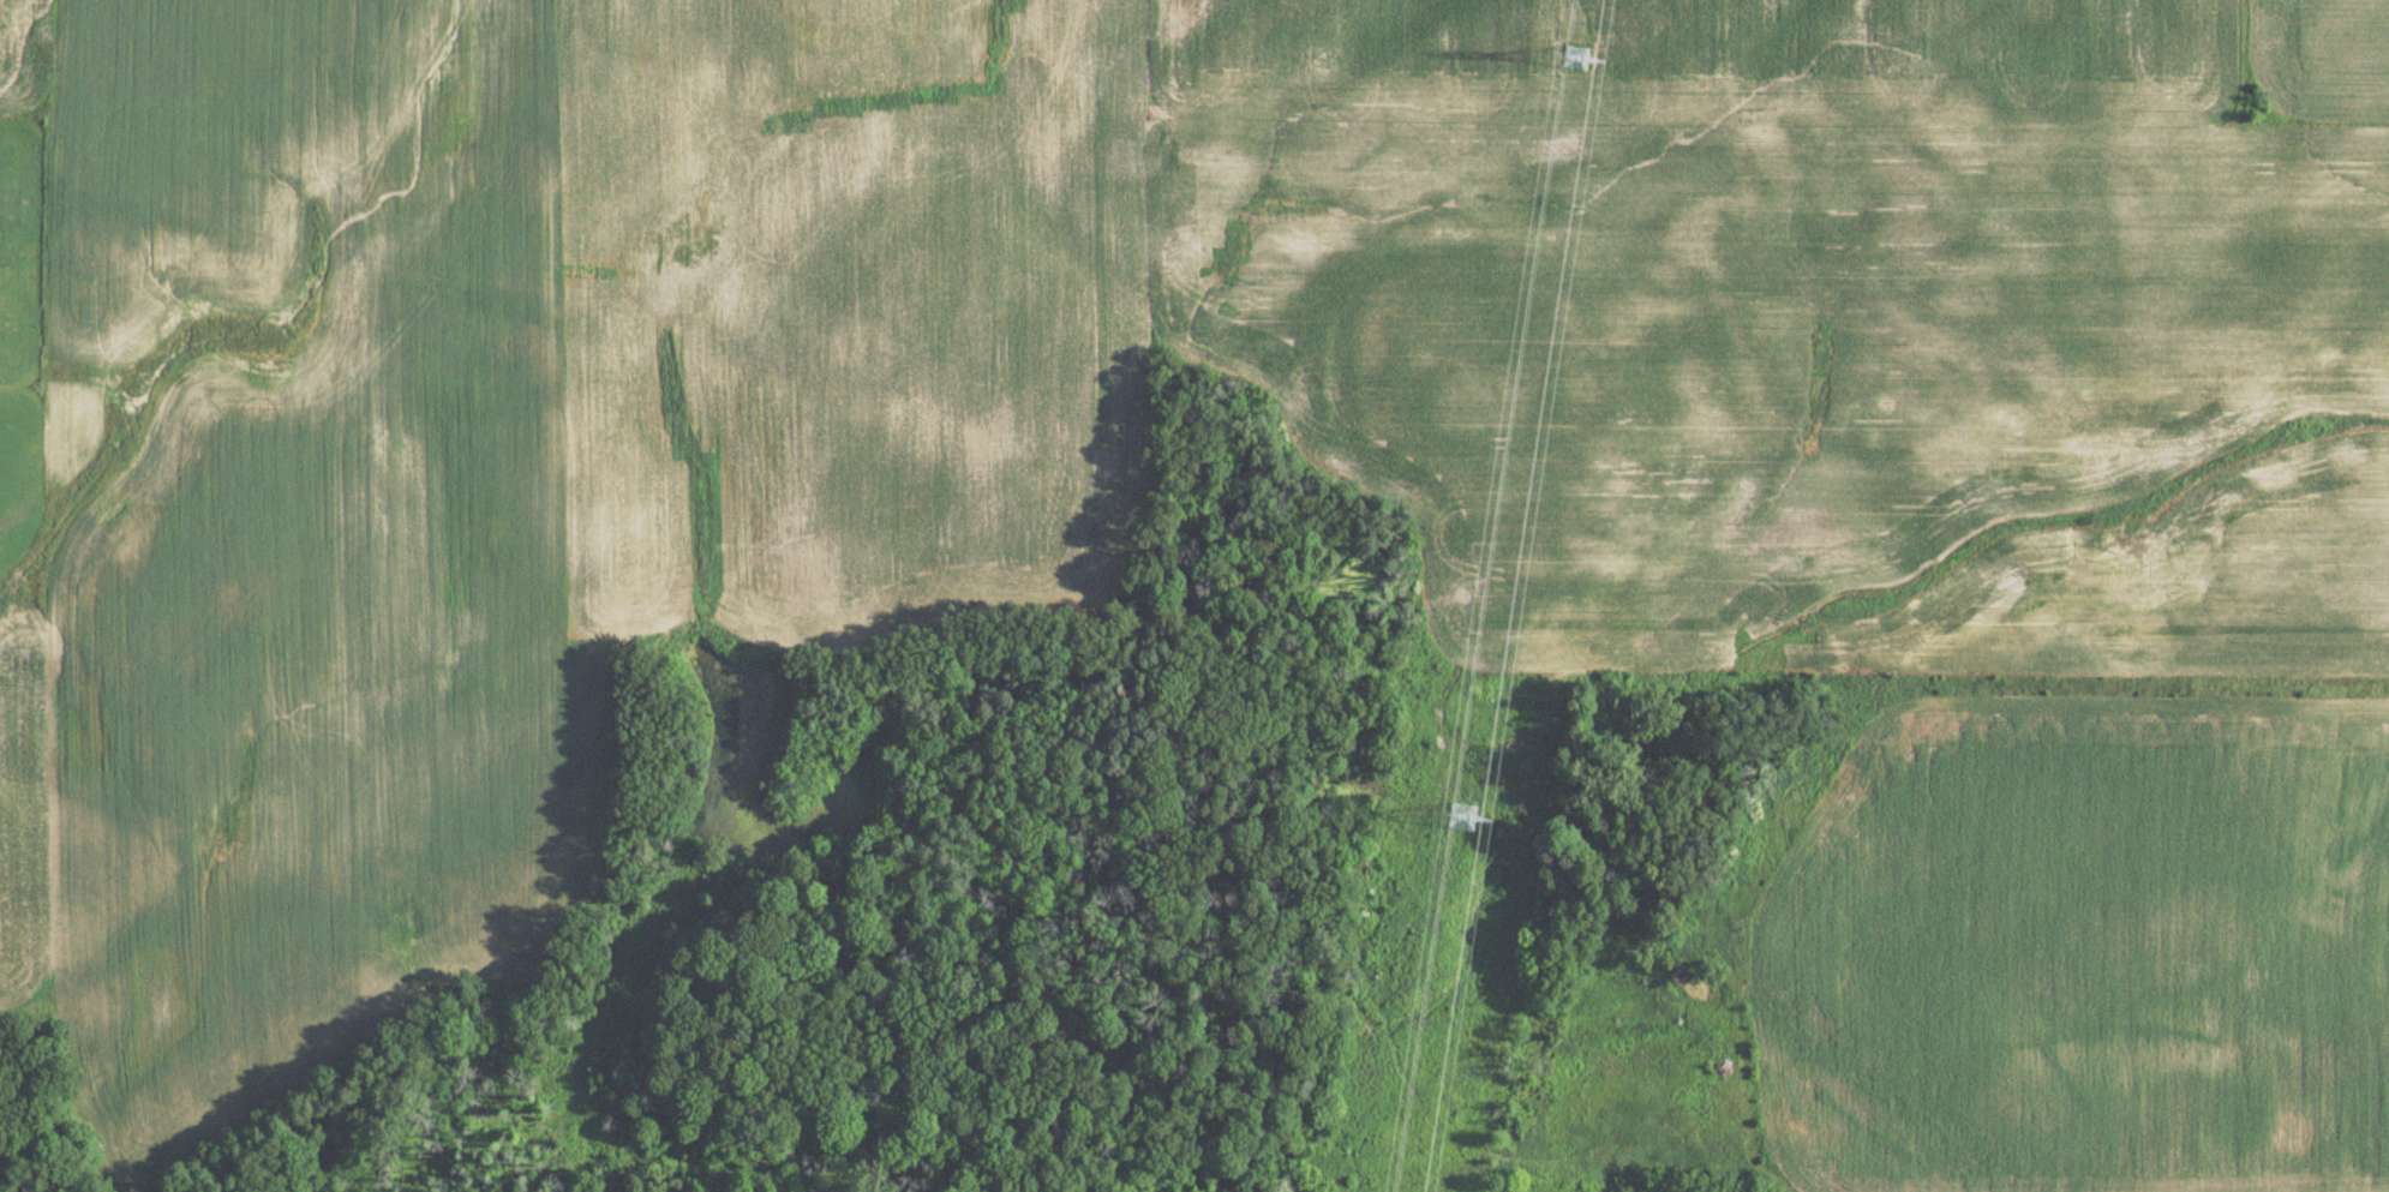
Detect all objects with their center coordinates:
power tower: (1574, 52)
power tower: (1463, 821)

